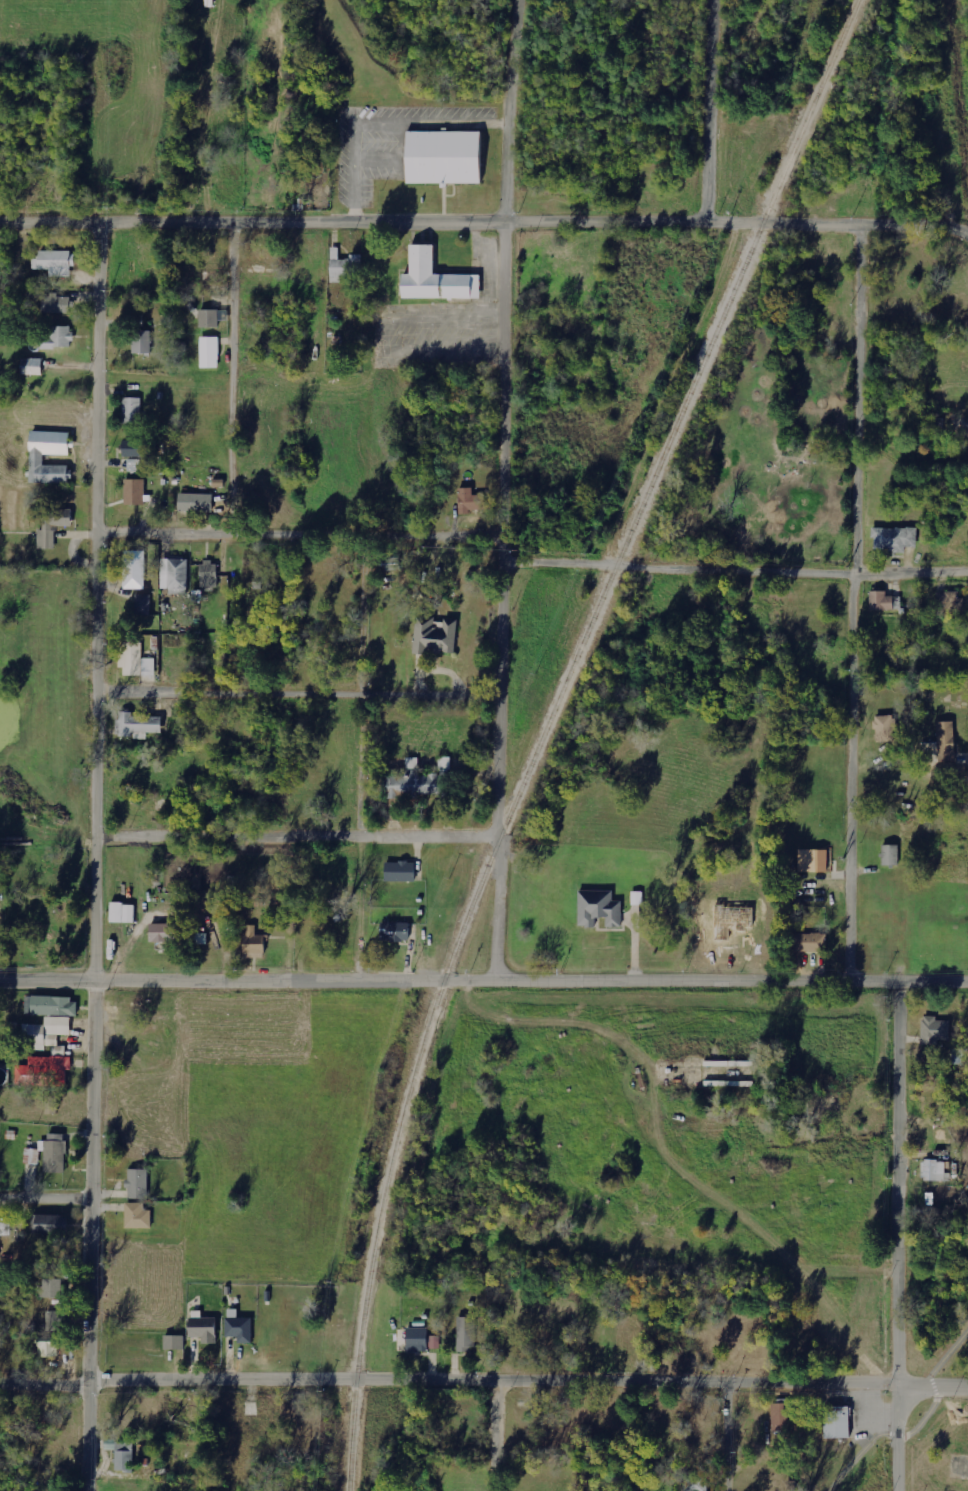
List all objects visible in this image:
road: (706, 111)
building: (442, 157)
road: (484, 215)
building: (257, 259)
building: (55, 262)
building: (206, 264)
building: (345, 264)
building: (435, 279)
building: (57, 304)
building: (209, 318)
building: (59, 338)
building: (142, 342)
building: (210, 352)
building: (131, 410)
building: (962, 428)
building: (138, 452)
building: (37, 460)
road: (504, 490)
building: (134, 492)
building: (469, 501)
building: (195, 502)
building: (52, 526)
road: (304, 530)
building: (894, 539)
building: (393, 563)
road: (734, 567)
building: (134, 569)
building: (209, 574)
building: (175, 576)
road: (239, 596)
road: (354, 599)
road: (862, 601)
building: (882, 601)
building: (950, 602)
building: (143, 604)
building: (435, 637)
building: (135, 661)
road: (301, 689)
building: (137, 725)
railway: (545, 729)
building: (885, 729)
building: (941, 745)
building: (412, 782)
road: (170, 833)
road: (364, 835)
building: (890, 854)
road: (106, 855)
building: (813, 860)
building: (399, 871)
building: (637, 898)
building: (598, 908)
building: (122, 912)
building: (393, 931)
building: (161, 932)
building: (195, 936)
building: (806, 942)
building: (253, 943)
road: (483, 982)
building: (55, 1005)
building: (934, 1030)
building: (47, 1032)
building: (44, 1071)
building: (54, 1153)
building: (935, 1171)
building: (137, 1183)
road: (49, 1194)
building: (137, 1216)
building: (50, 1224)
building: (5, 1228)
road: (899, 1234)
building: (51, 1287)
building: (57, 1319)
building: (238, 1326)
building: (202, 1329)
building: (466, 1334)
building: (421, 1340)
building: (174, 1342)
building: (48, 1346)
road: (484, 1380)
building: (782, 1421)
building: (835, 1422)
road: (918, 1426)
road: (496, 1436)
road: (734, 1437)
building: (124, 1456)
building: (696, 1482)

